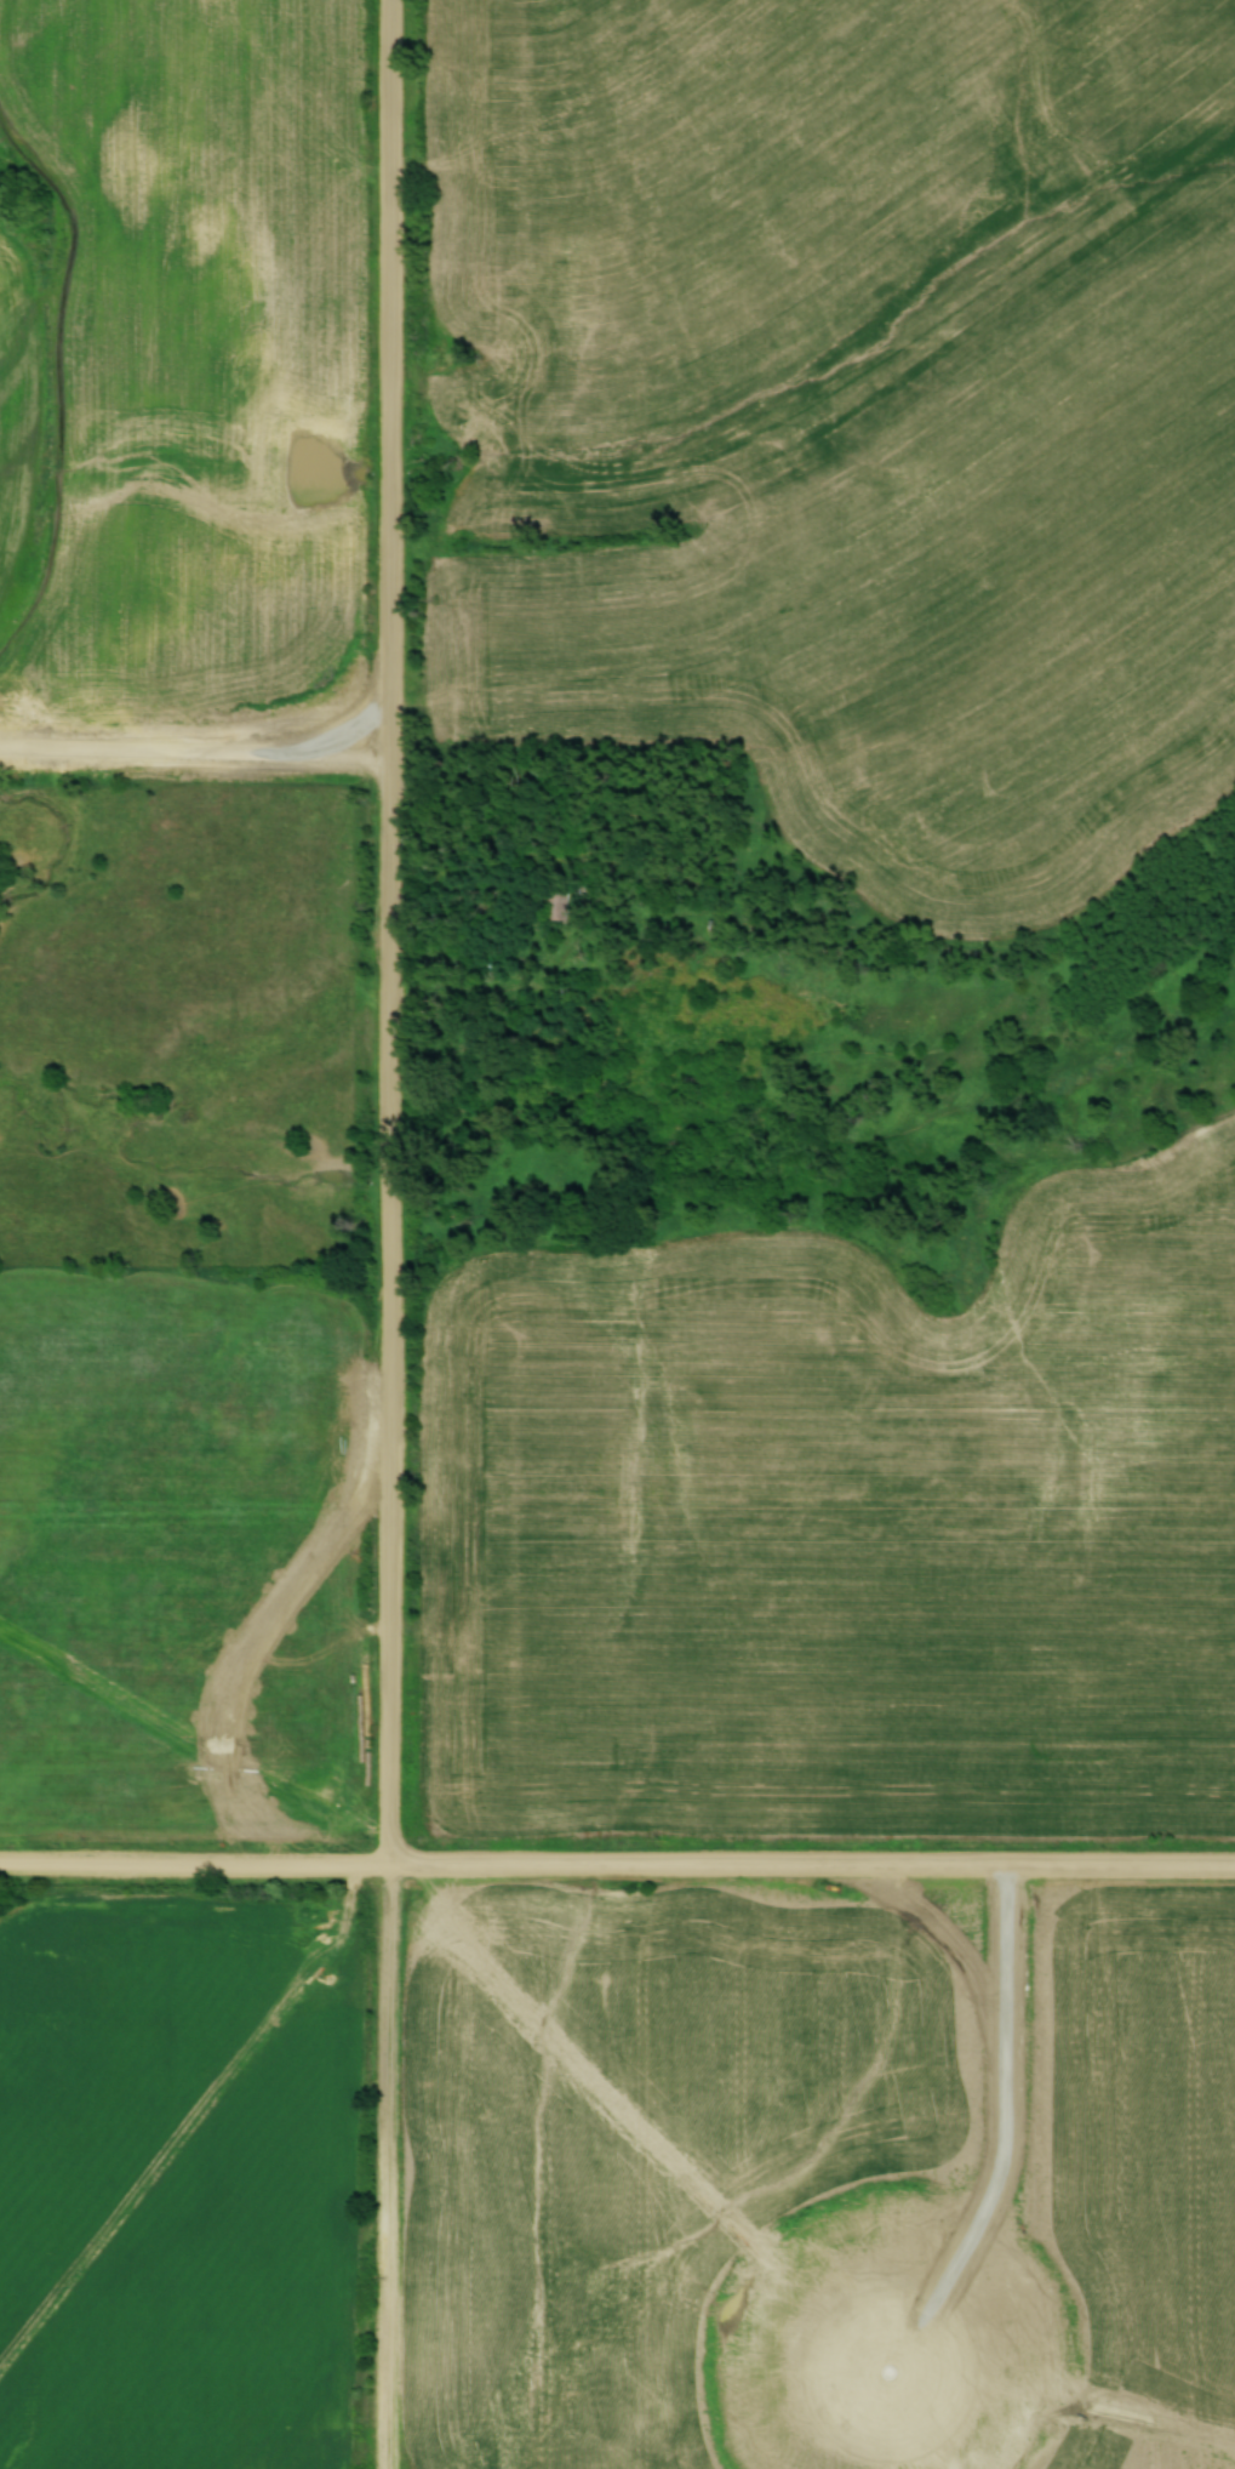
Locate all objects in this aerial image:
road: (395, 1234)
road: (617, 1863)
wind turbine: (887, 2371)

